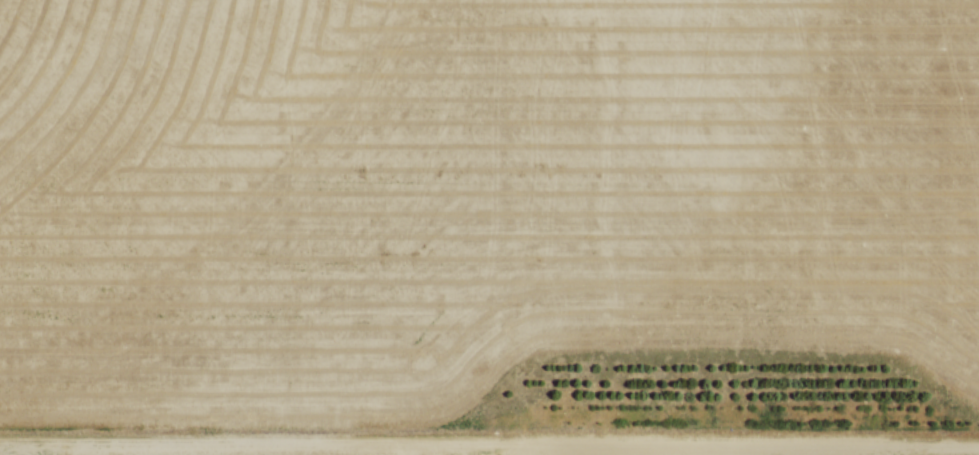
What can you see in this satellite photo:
crop: (460, 204)
crop: (662, 451)

